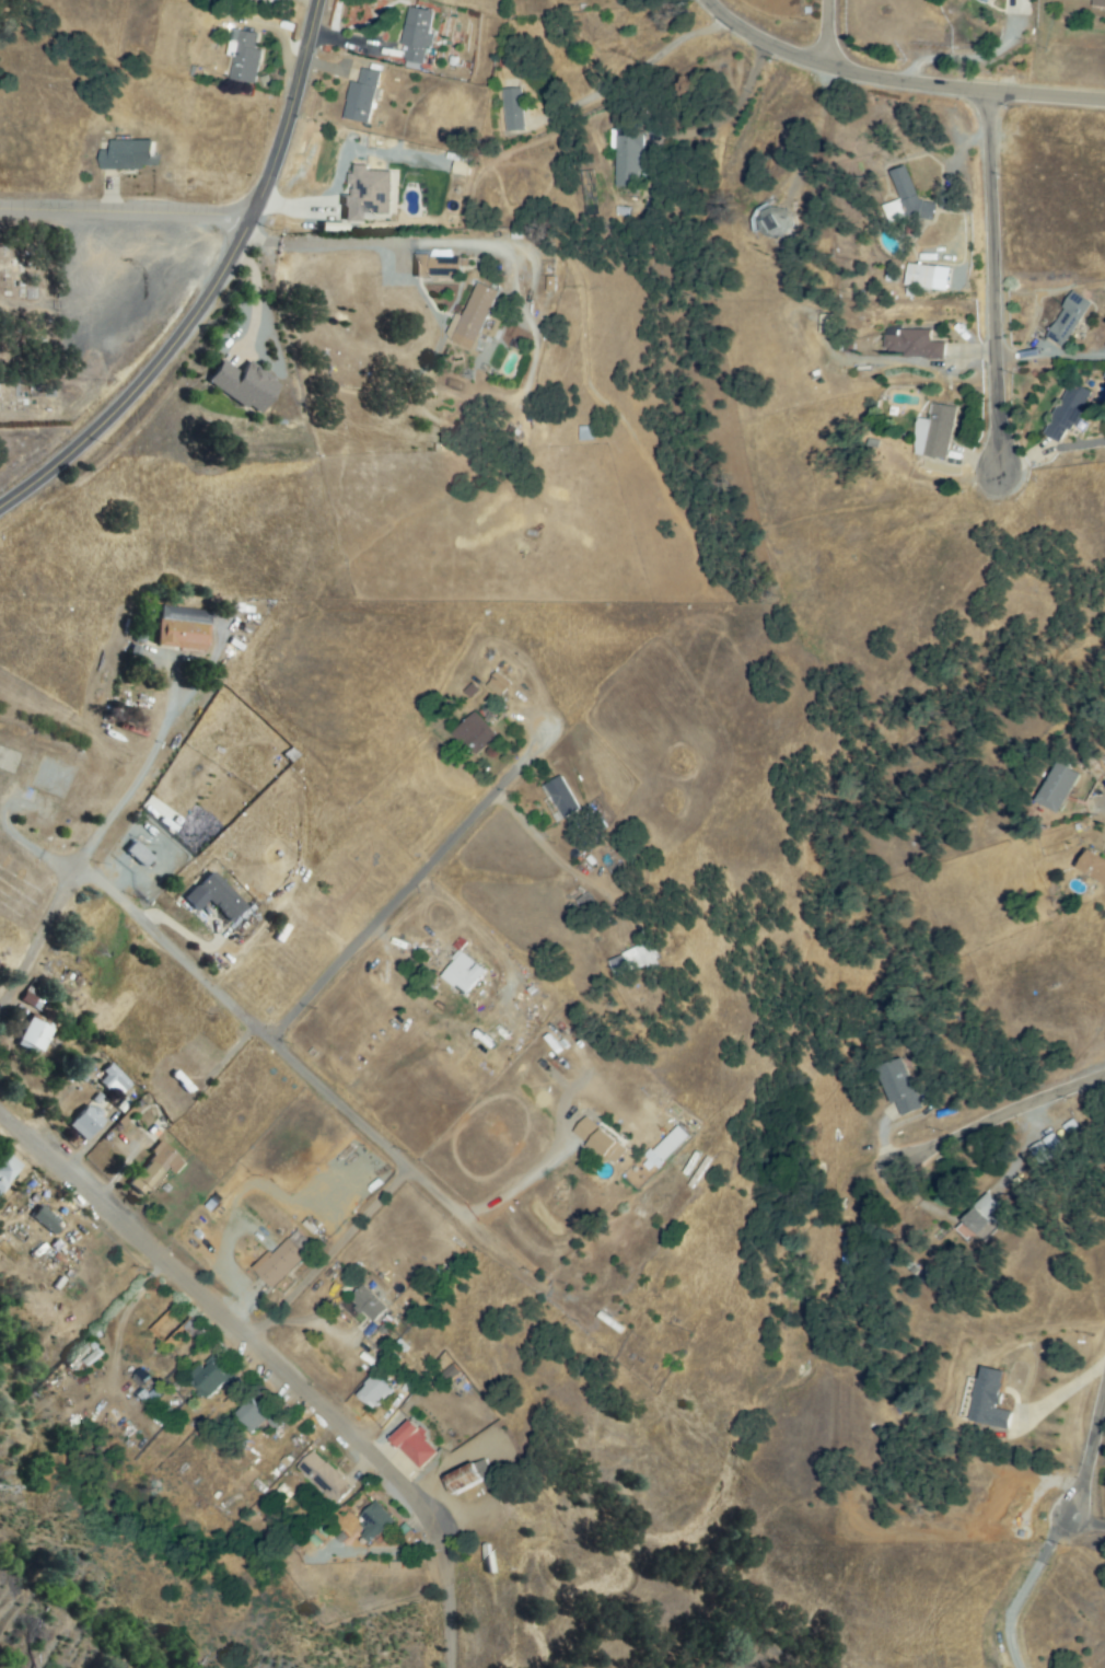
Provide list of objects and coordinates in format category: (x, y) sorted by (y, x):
building: (985, 0)
building: (1100, 0)
road: (827, 33)
building: (418, 36)
building: (245, 57)
road: (958, 57)
road: (631, 67)
road: (897, 79)
building: (362, 95)
building: (513, 109)
building: (130, 154)
building: (628, 159)
building: (368, 194)
building: (907, 200)
building: (950, 201)
road: (126, 211)
building: (777, 222)
road: (371, 243)
building: (446, 267)
road: (993, 274)
building: (921, 277)
road: (213, 289)
building: (473, 317)
building: (1070, 320)
building: (914, 345)
building: (241, 383)
building: (1069, 412)
building: (935, 432)
building: (185, 628)
building: (500, 683)
building: (475, 733)
road: (141, 774)
building: (54, 775)
building: (1059, 787)
building: (562, 797)
road: (547, 846)
building: (141, 854)
building: (1093, 865)
road: (117, 894)
building: (216, 896)
road: (400, 896)
building: (635, 960)
building: (464, 973)
building: (36, 1034)
building: (117, 1078)
building: (900, 1087)
road: (1002, 1114)
building: (88, 1122)
building: (598, 1142)
building: (1051, 1145)
building: (667, 1147)
road: (406, 1166)
building: (155, 1170)
building: (7, 1171)
road: (514, 1183)
building: (979, 1216)
building: (47, 1218)
road: (330, 1254)
building: (283, 1261)
building: (369, 1304)
building: (196, 1327)
building: (90, 1353)
road: (275, 1363)
building: (210, 1378)
building: (376, 1391)
road: (1060, 1391)
building: (986, 1400)
building: (253, 1414)
building: (416, 1446)
road: (1086, 1455)
building: (473, 1476)
building: (325, 1478)
building: (375, 1520)
road: (1023, 1586)

